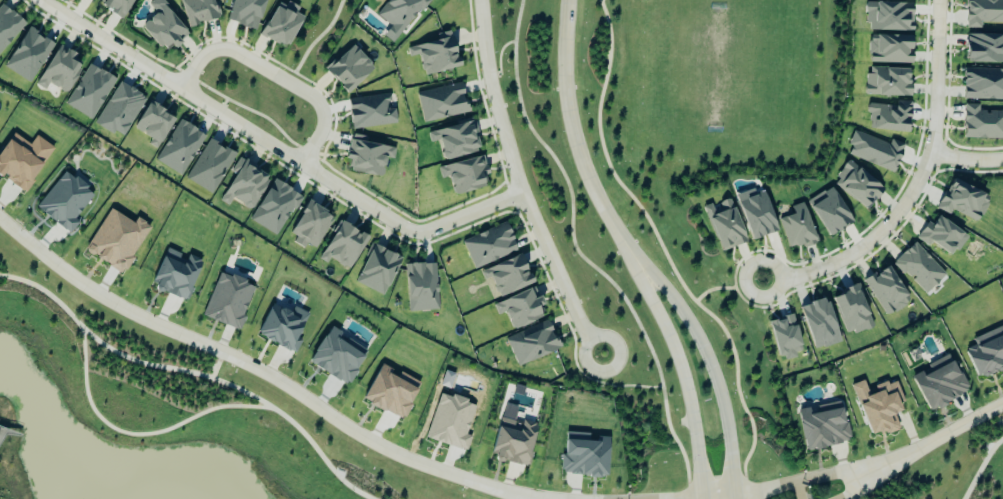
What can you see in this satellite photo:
building: (93, 0)
building: (115, 6)
building: (197, 11)
building: (983, 12)
building: (245, 13)
building: (398, 16)
building: (888, 16)
building: (281, 24)
building: (8, 26)
building: (163, 27)
building: (984, 48)
building: (889, 49)
building: (435, 54)
building: (27, 55)
building: (348, 68)
building: (58, 70)
road: (275, 75)
building: (887, 81)
building: (983, 84)
park: (708, 88)
building: (88, 92)
building: (441, 102)
building: (119, 110)
building: (370, 111)
building: (888, 118)
building: (982, 123)
building: (153, 124)
road: (574, 138)
building: (455, 140)
building: (179, 148)
road: (275, 148)
building: (874, 151)
building: (366, 157)
road: (964, 159)
building: (22, 160)
building: (209, 167)
building: (464, 175)
road: (519, 184)
building: (243, 185)
building: (857, 185)
road: (913, 185)
building: (962, 201)
building: (64, 202)
building: (274, 208)
building: (828, 211)
building: (756, 213)
building: (724, 225)
building: (309, 226)
building: (797, 227)
building: (941, 236)
building: (116, 240)
building: (342, 246)
building: (488, 246)
road: (666, 252)
road: (581, 255)
building: (919, 267)
building: (377, 270)
building: (175, 274)
building: (507, 276)
building: (421, 287)
road: (728, 287)
building: (885, 291)
building: (227, 301)
building: (519, 309)
building: (851, 310)
building: (819, 323)
building: (282, 327)
building: (785, 337)
building: (532, 343)
building: (987, 353)
building: (336, 358)
road: (216, 364)
road: (258, 367)
road: (712, 369)
road: (191, 374)
road: (683, 376)
building: (939, 383)
building: (388, 394)
building: (878, 406)
road: (998, 417)
building: (450, 422)
building: (822, 426)
road: (8, 433)
road: (1, 434)
road: (136, 435)
building: (513, 441)
road: (926, 445)
building: (584, 455)
road: (981, 467)
road: (823, 477)
road: (765, 489)
road: (799, 489)
road: (842, 490)
road: (703, 496)

